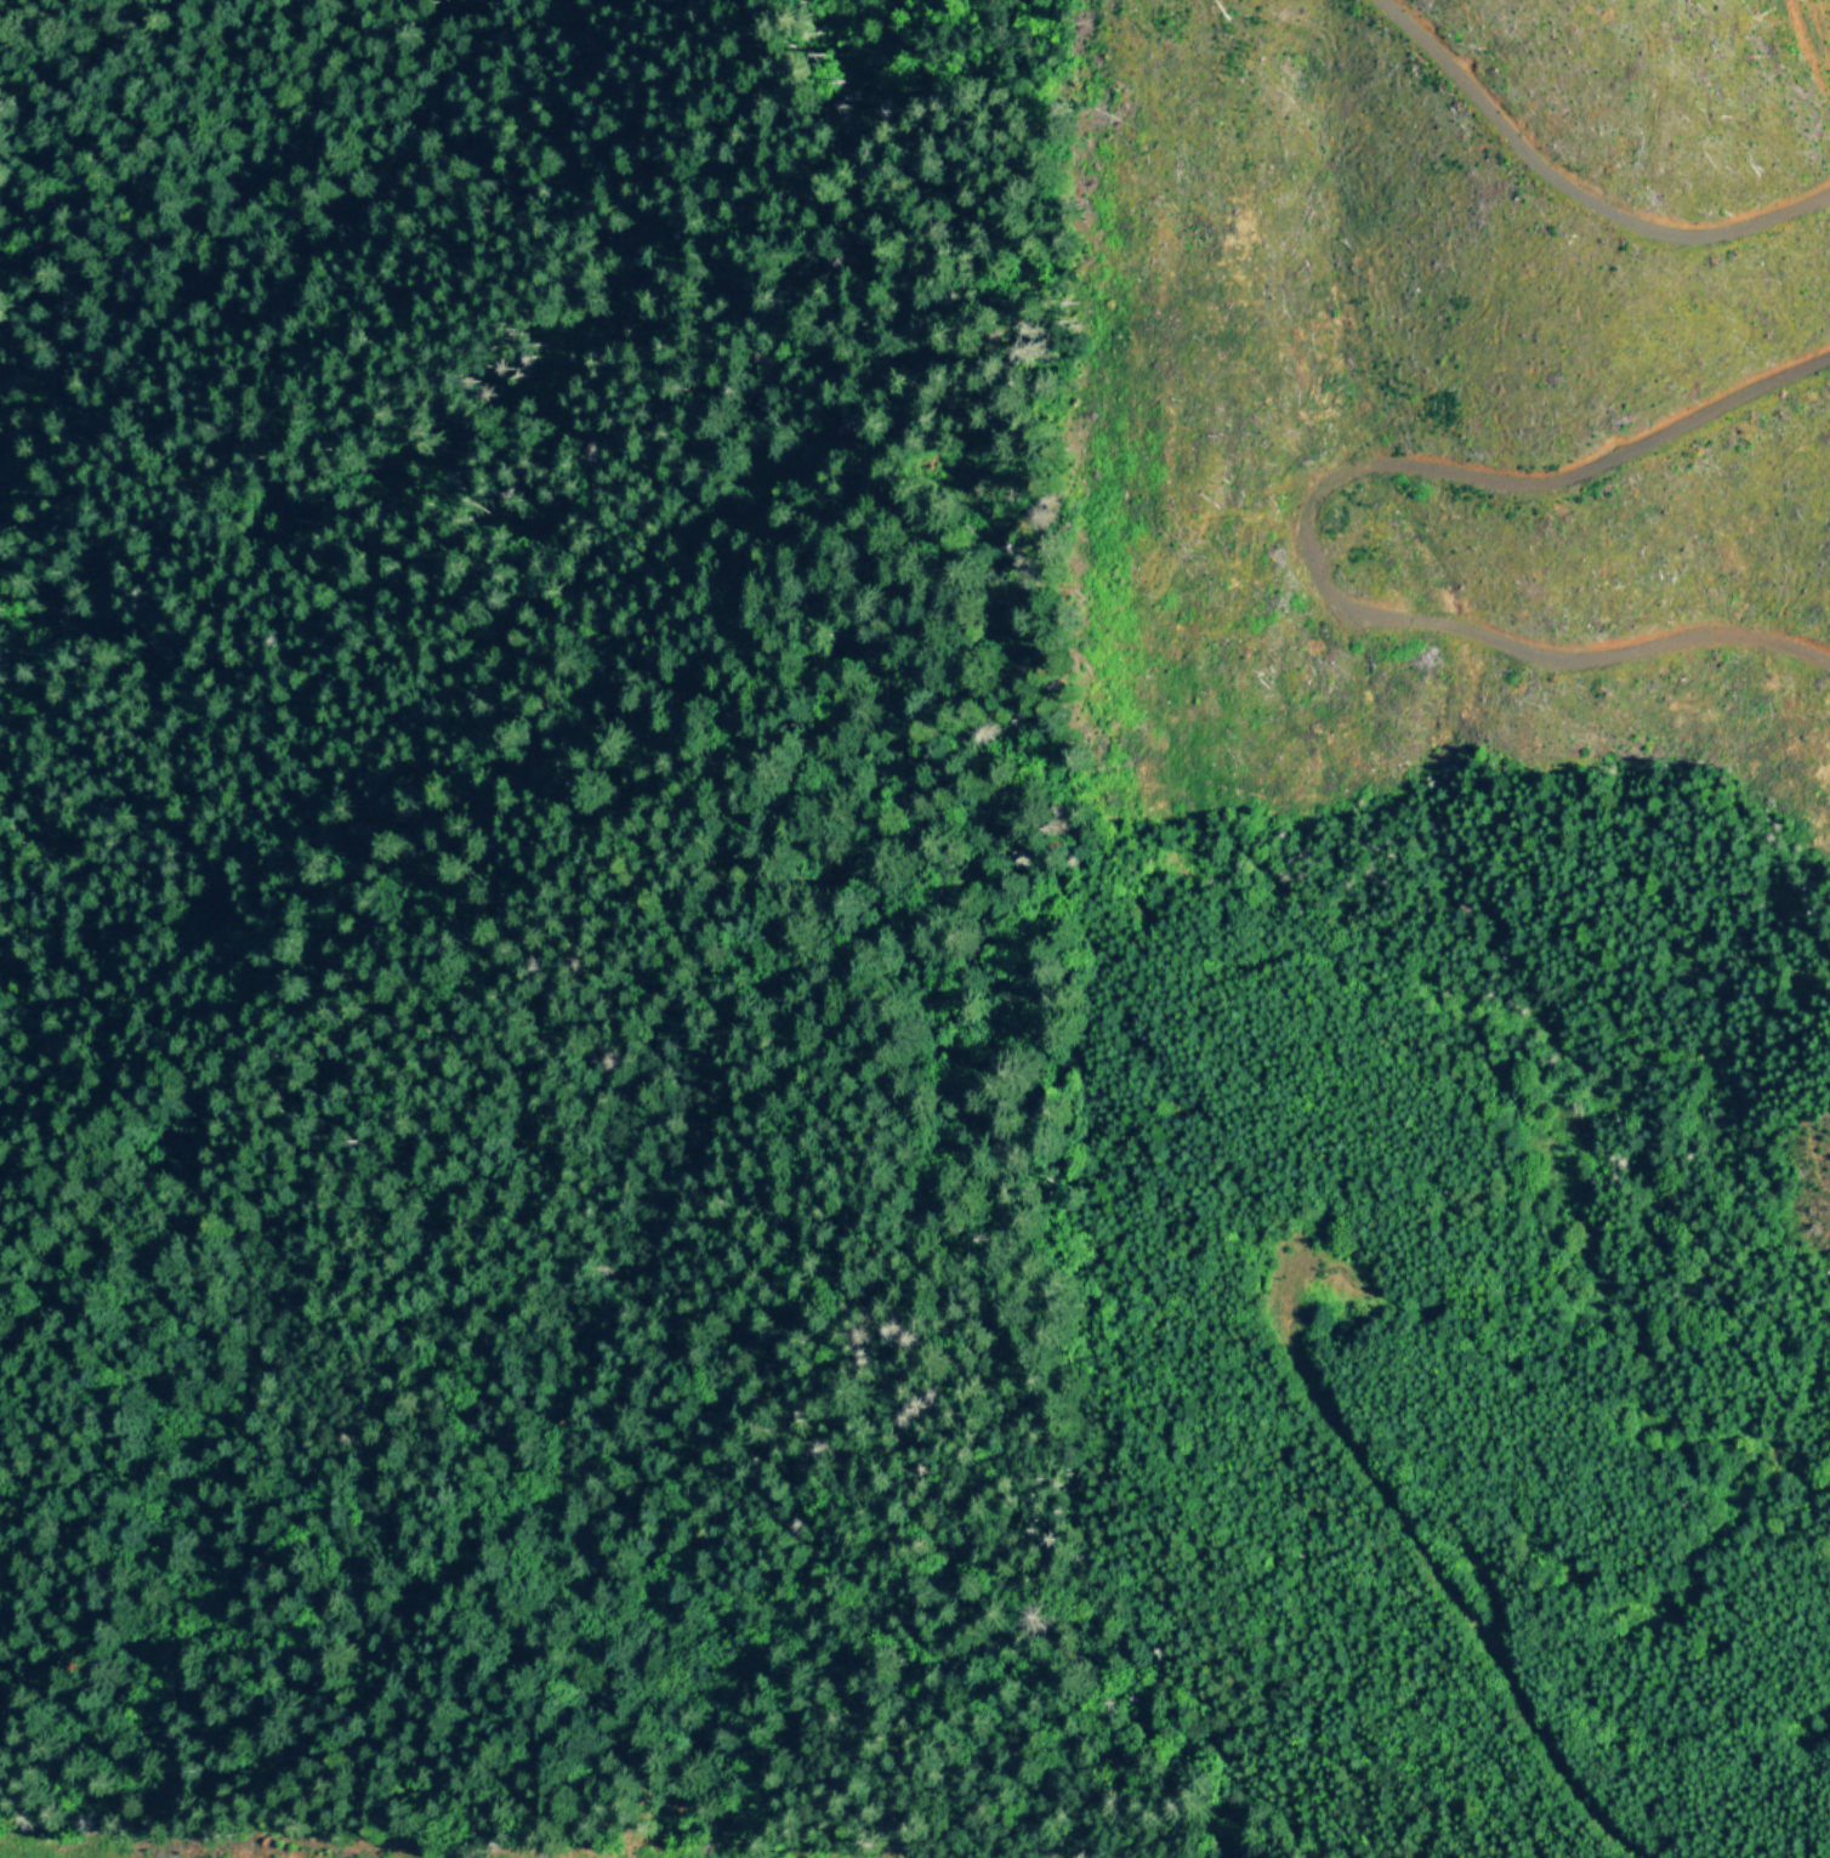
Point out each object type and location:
road: (1448, 1574)

